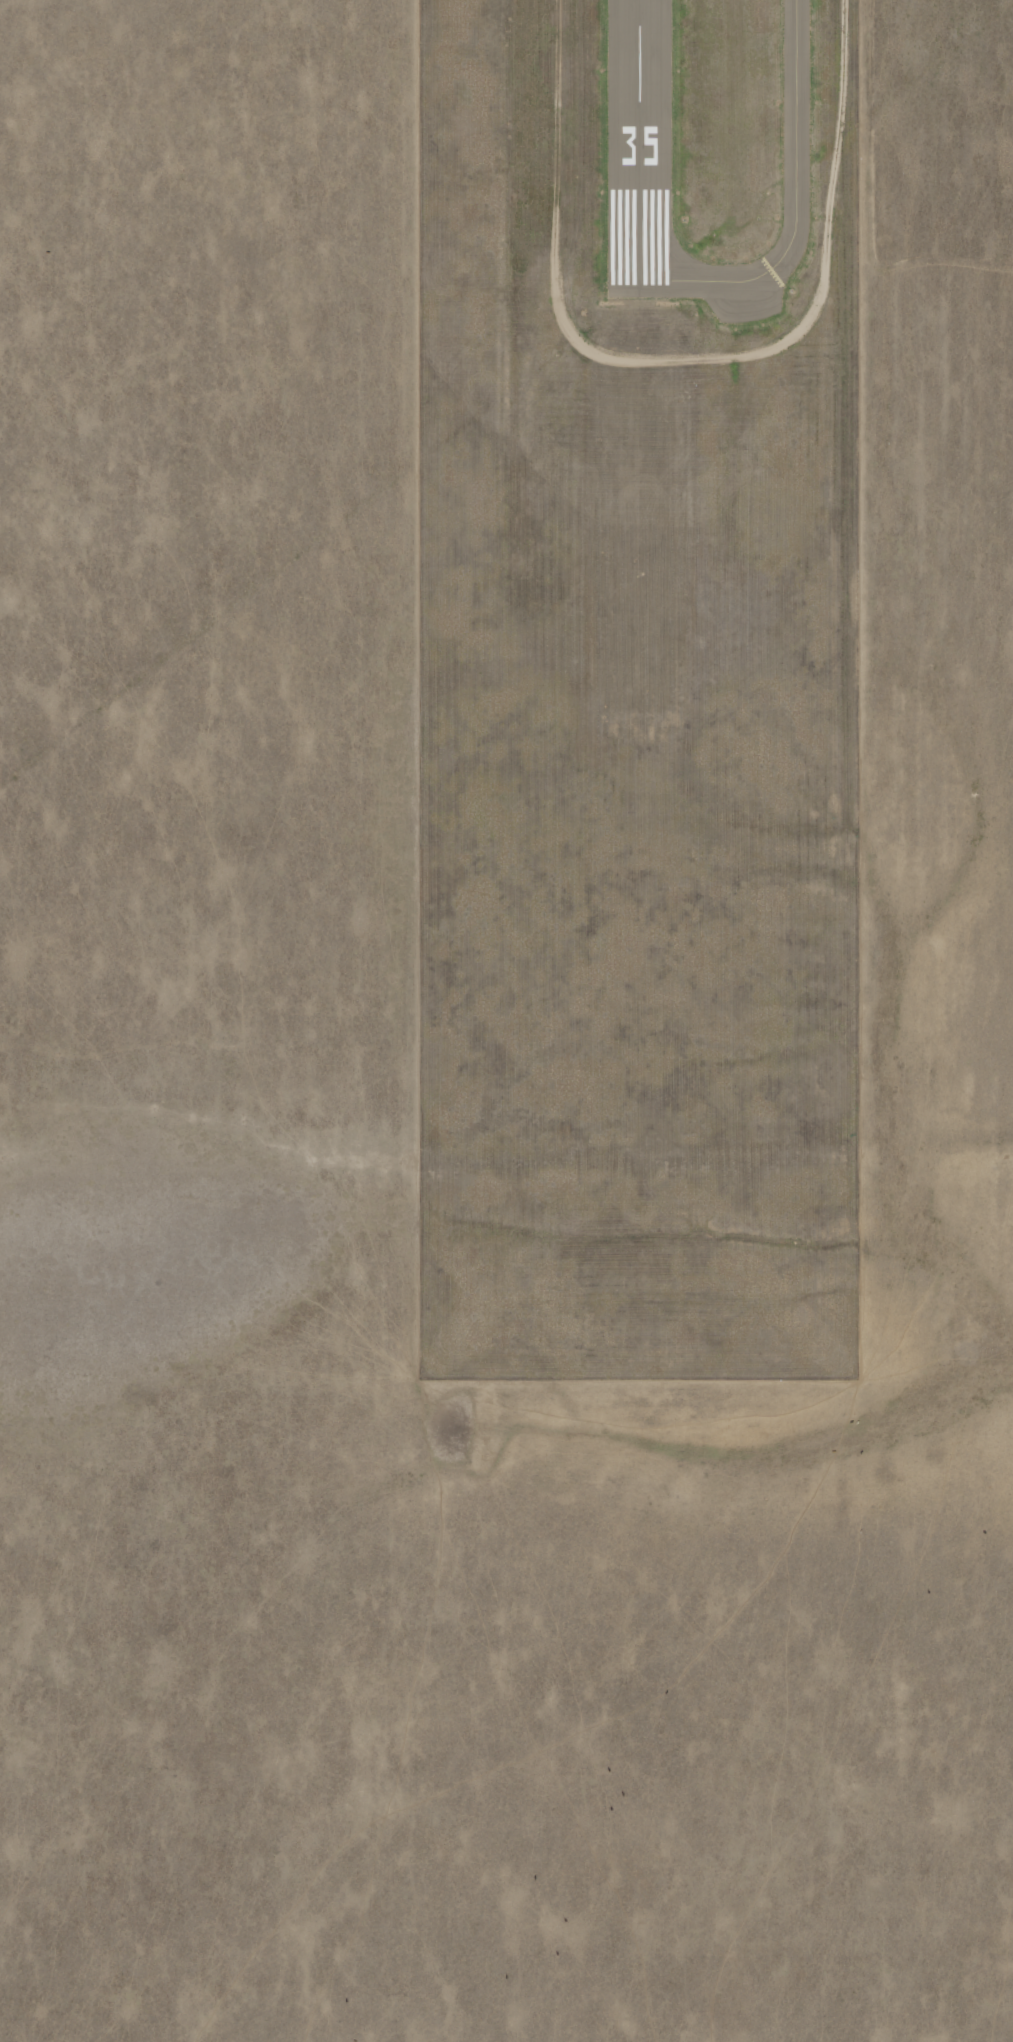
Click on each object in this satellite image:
airport runway: (648, 150)
airport taxiway: (804, 209)
airport: (640, 692)

